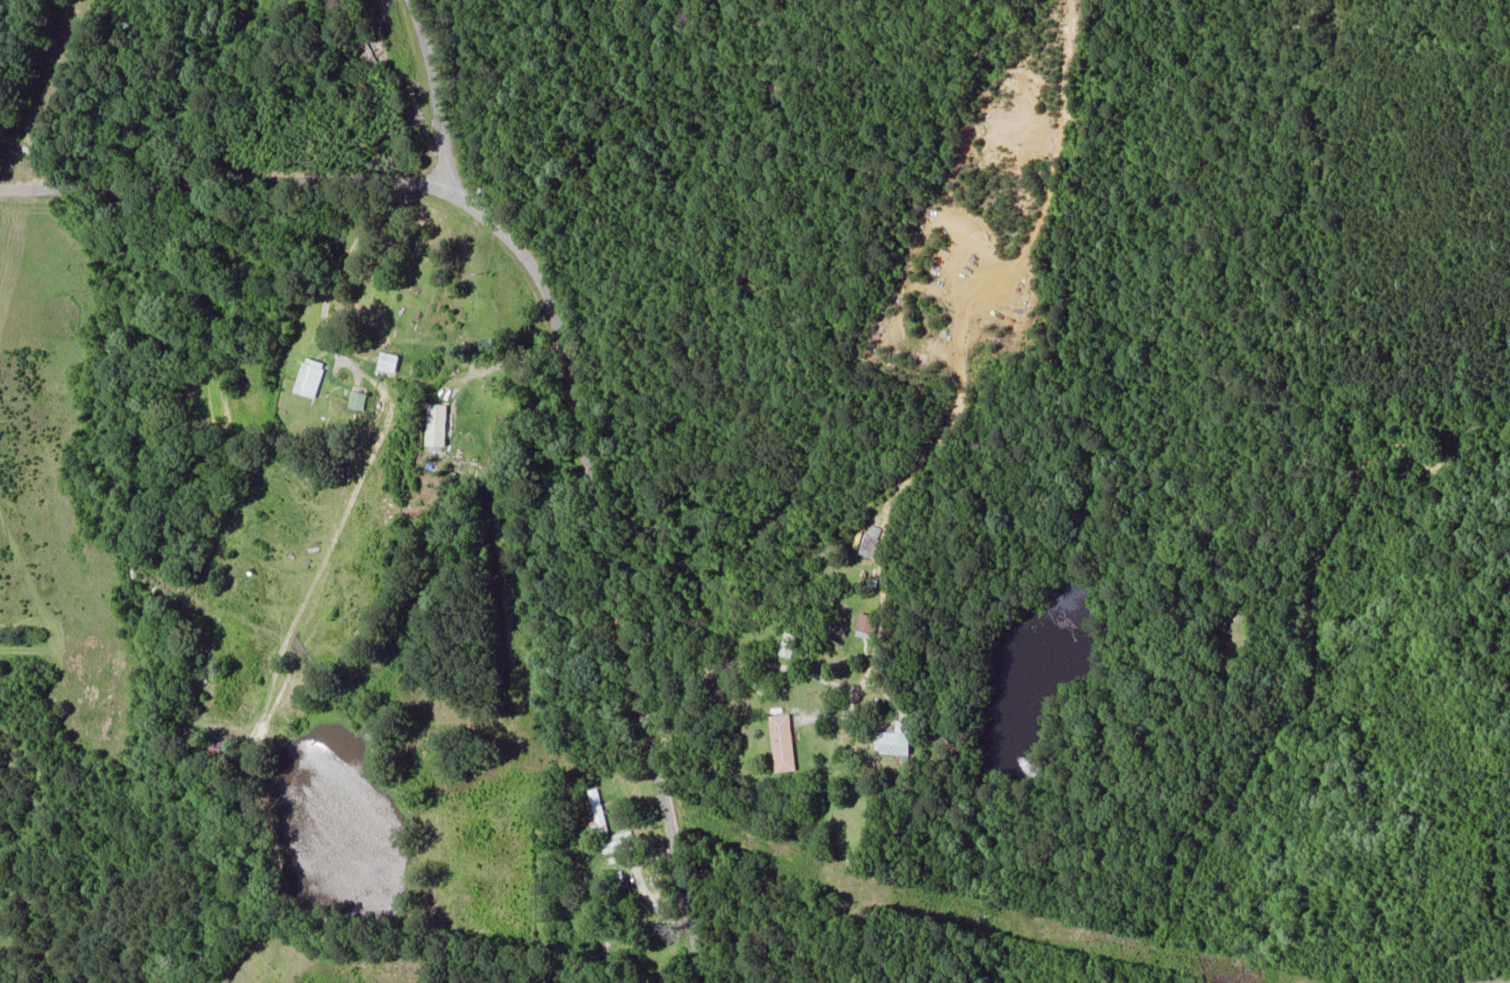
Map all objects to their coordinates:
building: (369, 55)
road: (223, 176)
building: (389, 363)
building: (310, 378)
building: (442, 426)
road: (604, 466)
road: (891, 514)
building: (868, 545)
building: (868, 625)
building: (789, 644)
building: (217, 740)
building: (897, 740)
building: (784, 743)
building: (598, 812)
road: (1497, 981)

